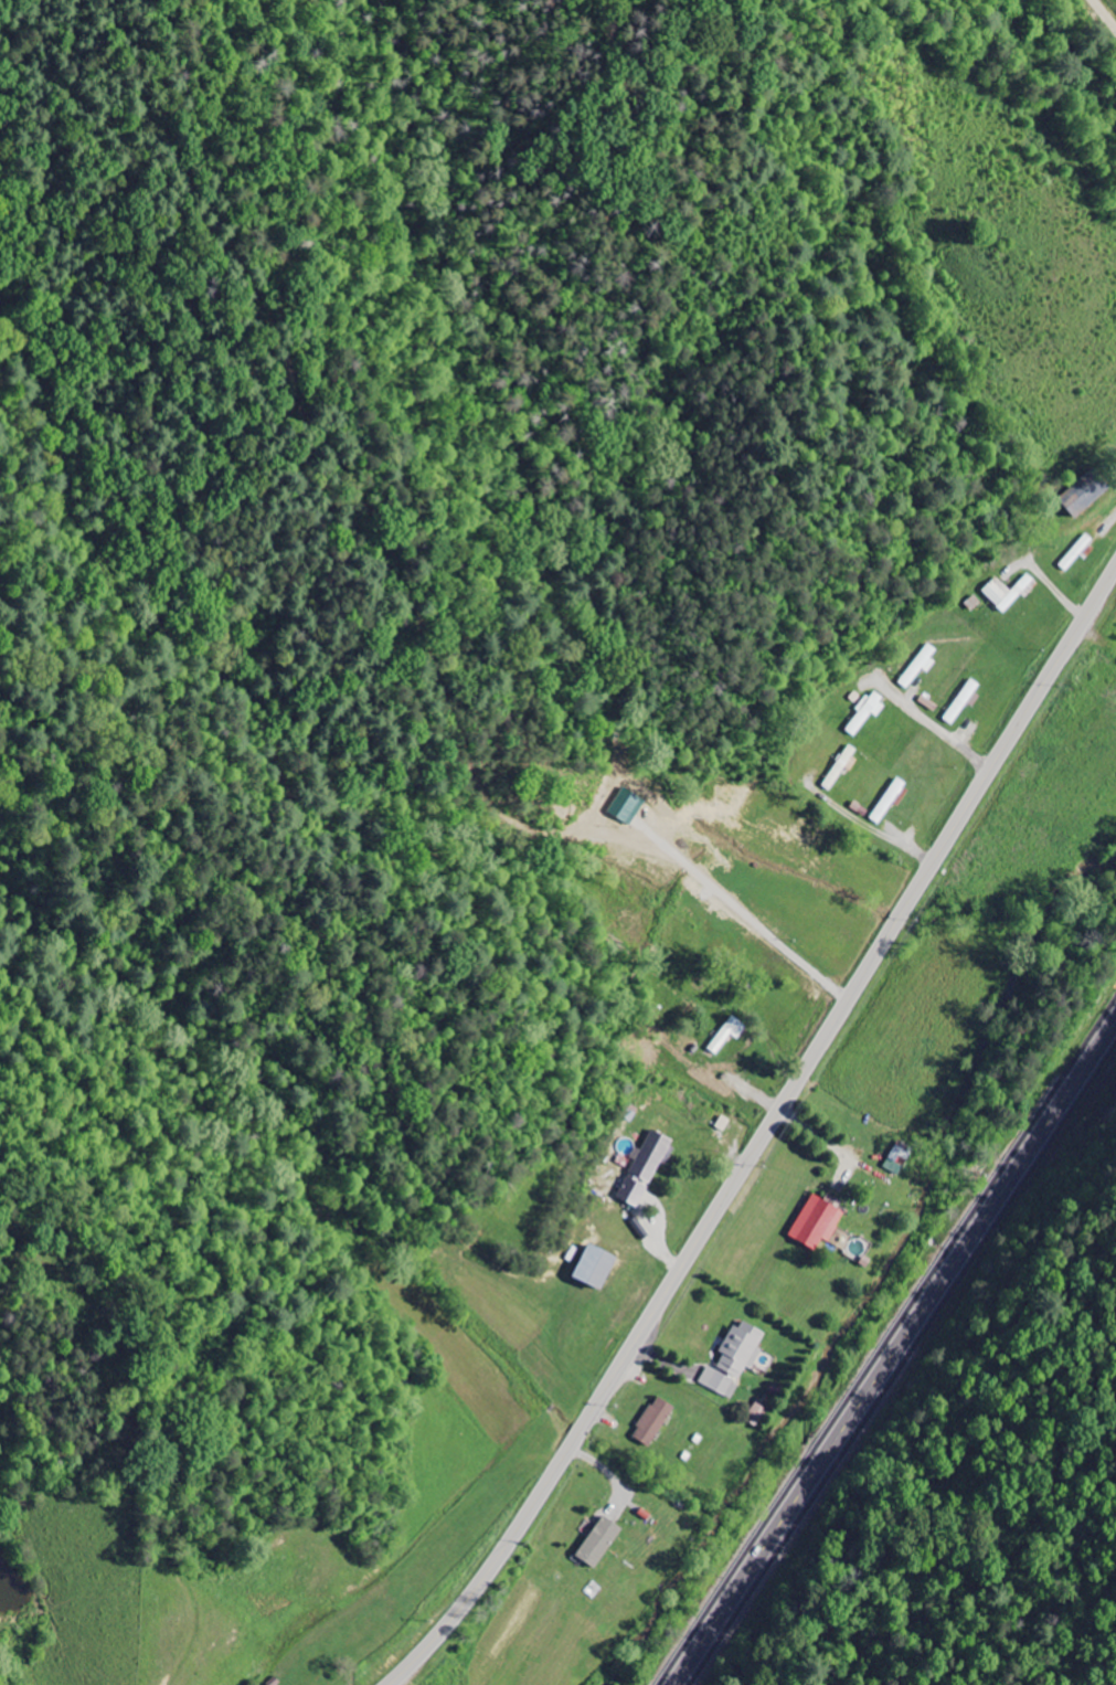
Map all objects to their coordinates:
building: (1076, 499)
building: (1006, 593)
building: (965, 702)
road: (963, 750)
building: (841, 769)
building: (630, 807)
road: (882, 836)
building: (730, 1036)
road: (763, 1134)
building: (646, 1169)
building: (819, 1223)
building: (602, 1268)
building: (743, 1349)
road: (892, 1352)
building: (721, 1384)
building: (656, 1422)
building: (603, 1544)

